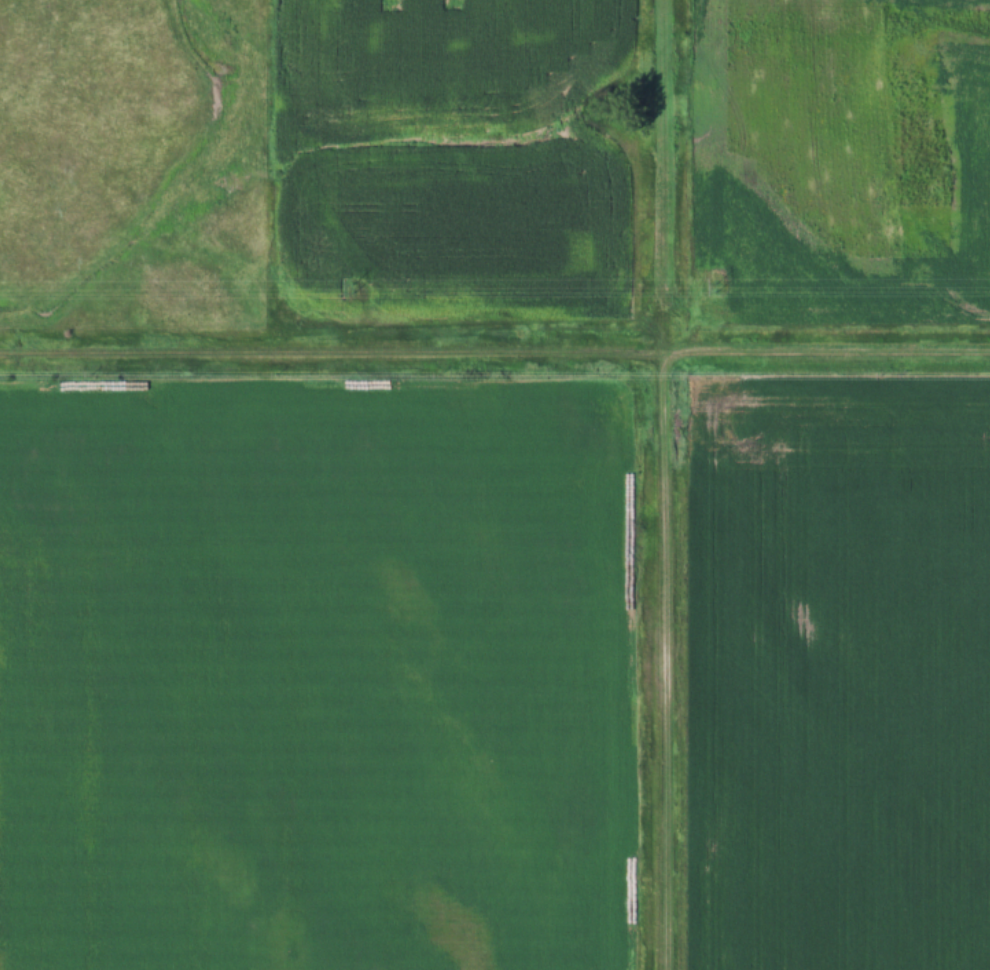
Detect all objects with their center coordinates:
road: (661, 178)
power tower: (719, 287)
power tower: (352, 289)
road: (494, 355)
road: (660, 663)

